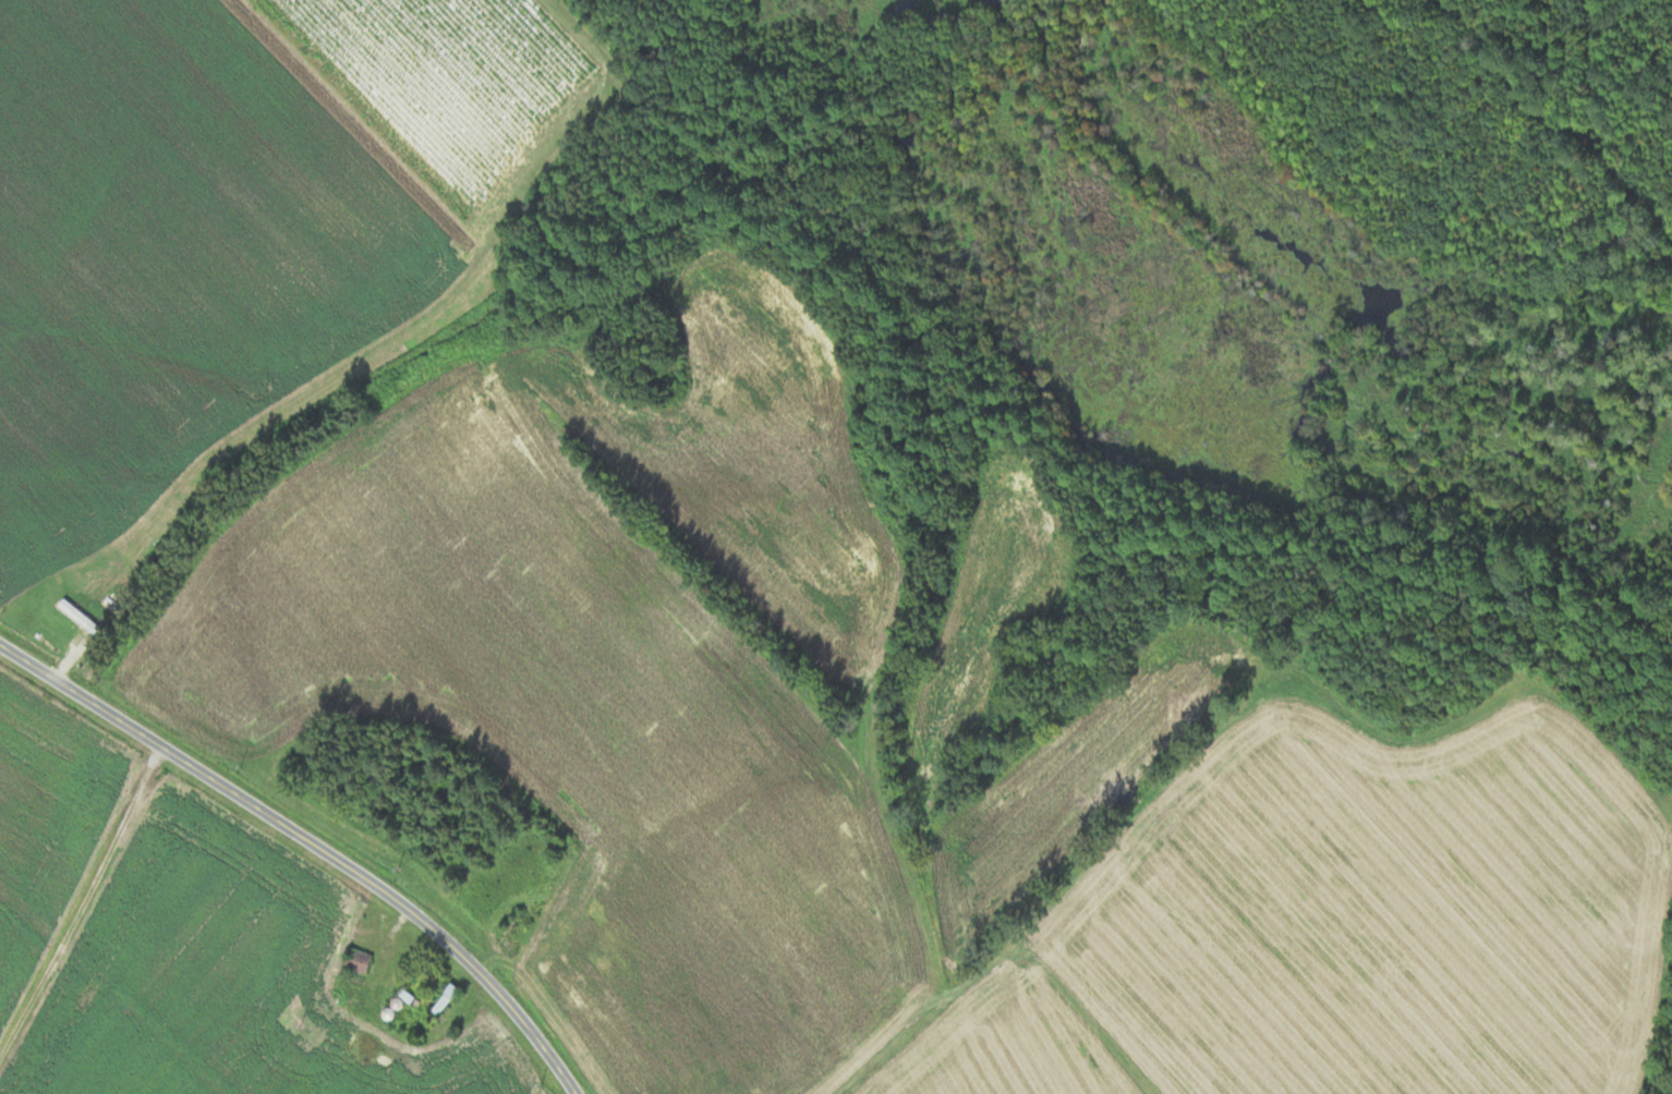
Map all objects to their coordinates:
building: (80, 613)
road: (308, 843)
road: (81, 908)
building: (358, 961)
building: (427, 976)
building: (409, 998)
building: (445, 999)

